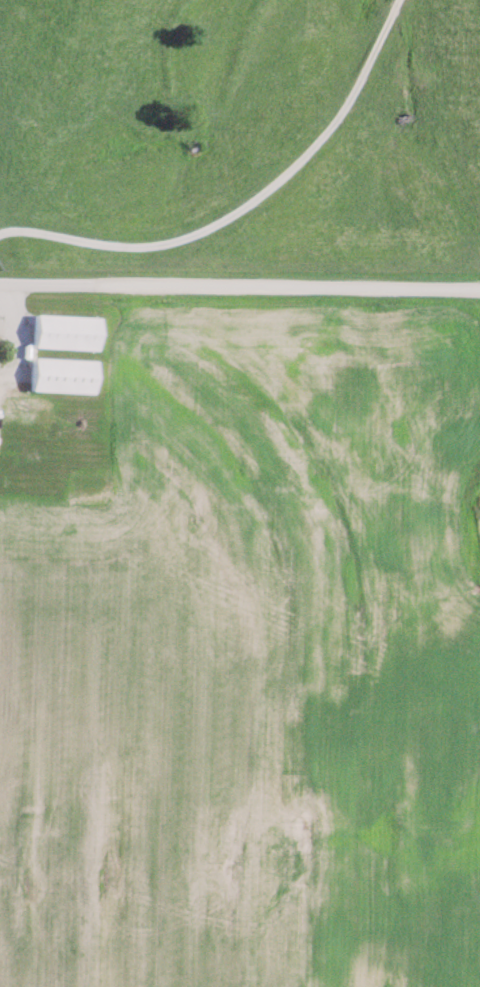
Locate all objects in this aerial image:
road: (239, 284)
building: (67, 331)
building: (66, 375)

